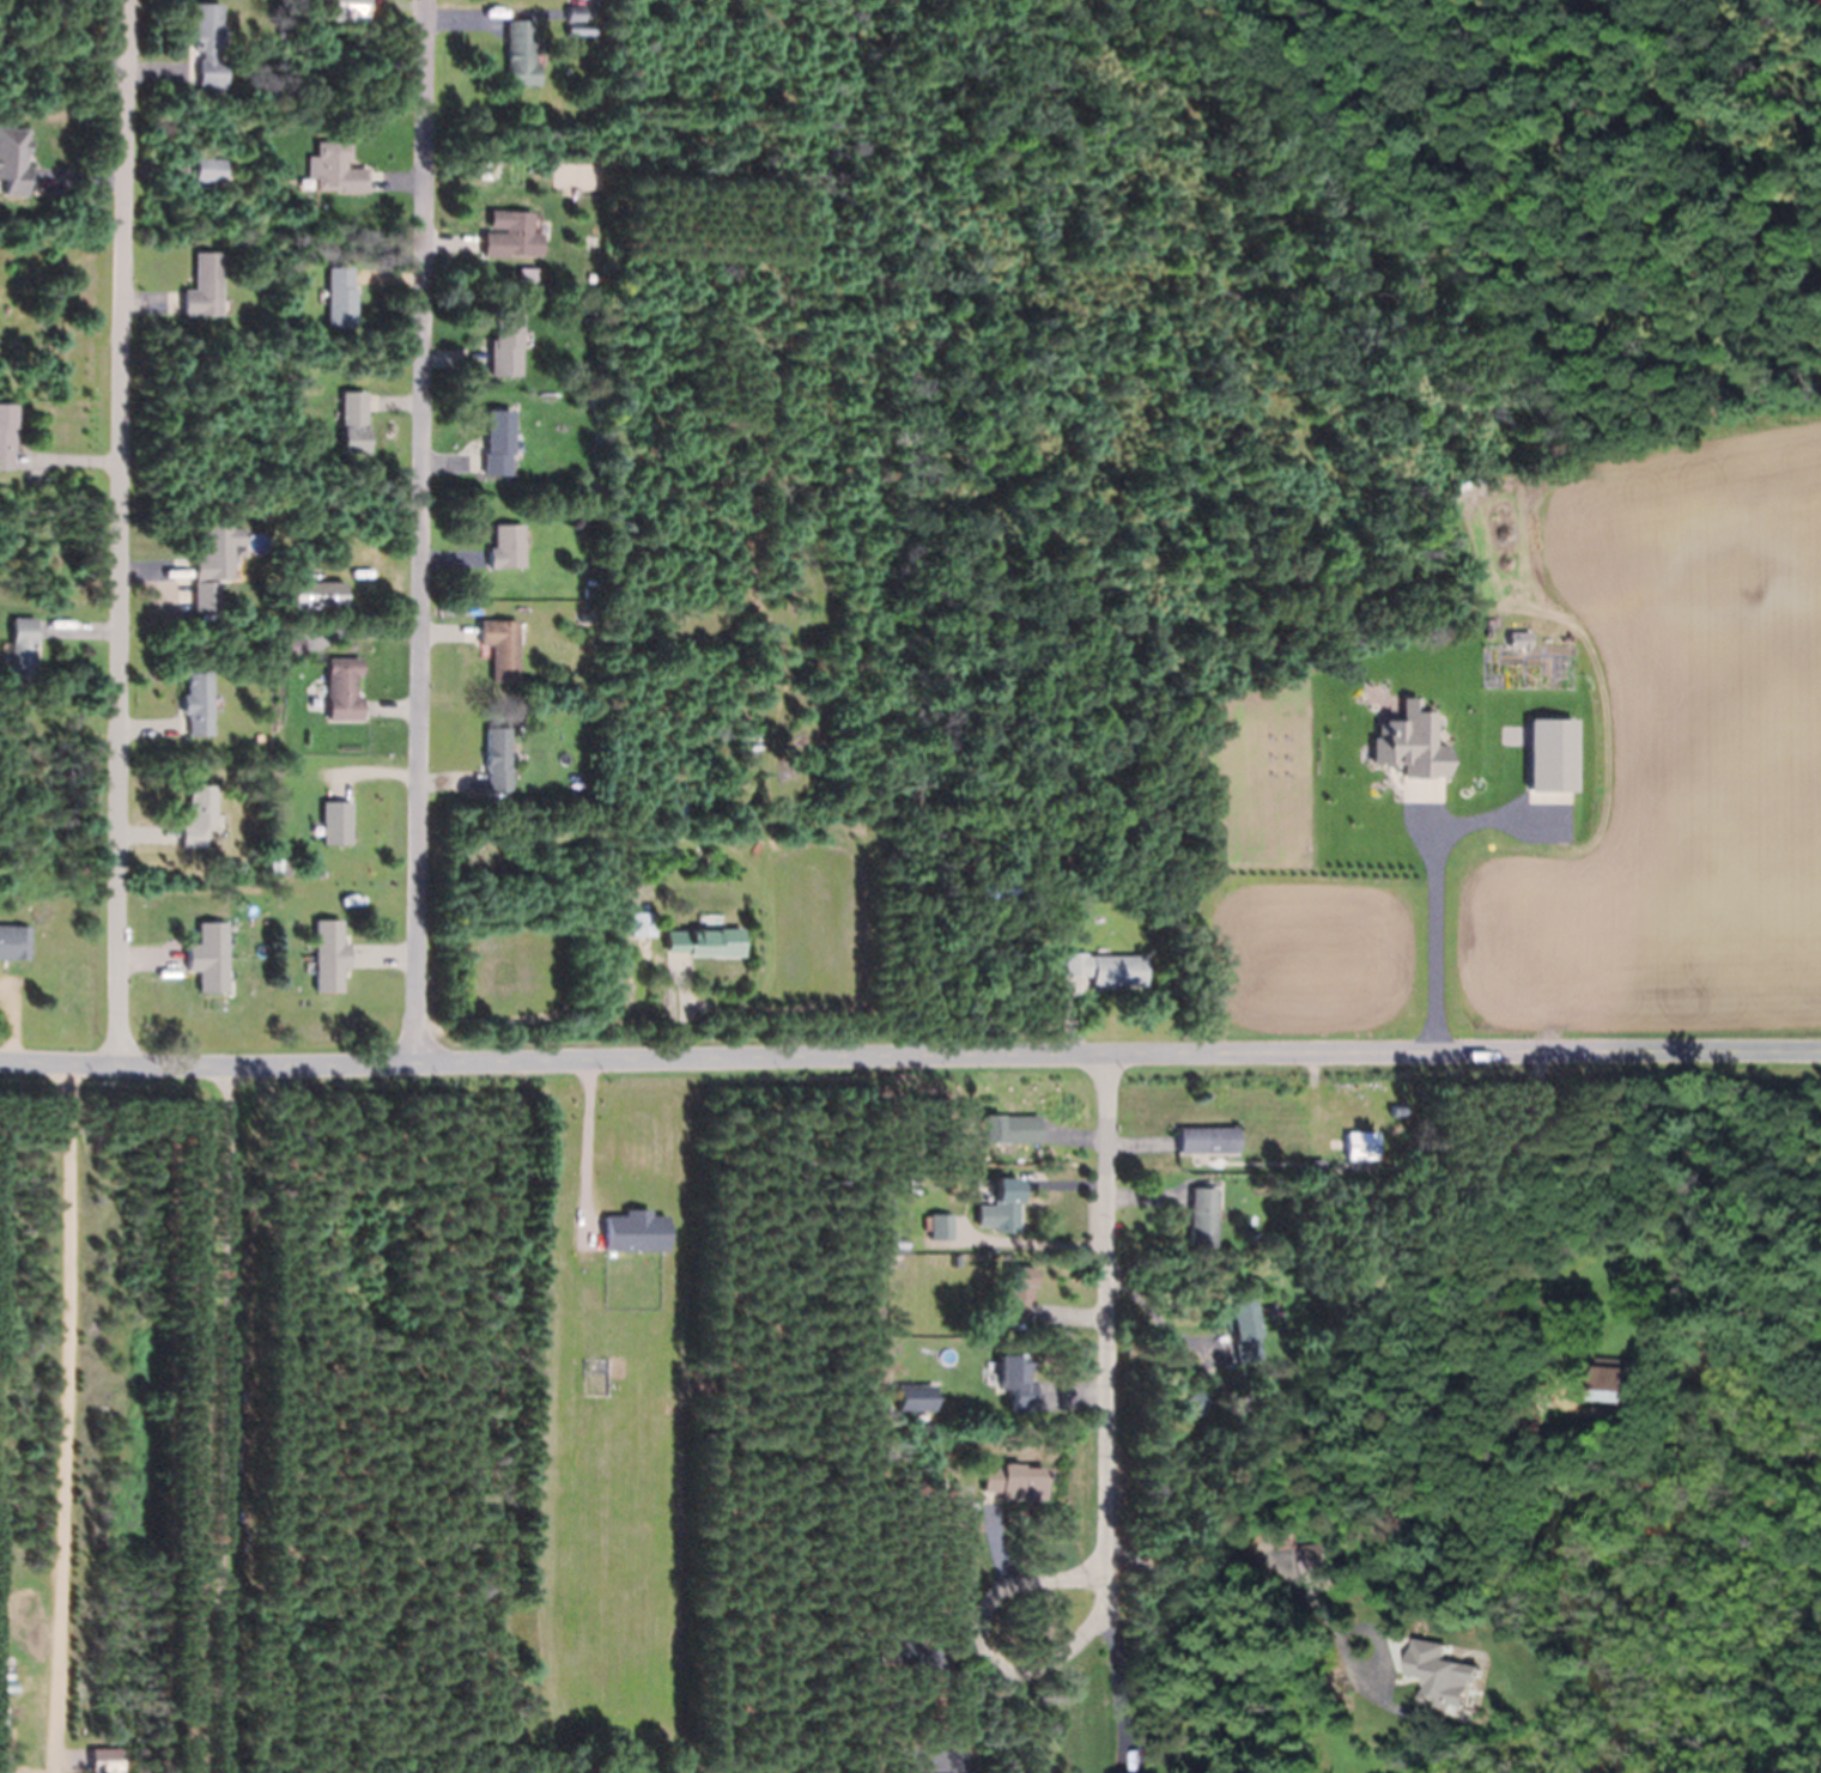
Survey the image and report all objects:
building: (1820, 0)
building: (347, 11)
building: (573, 13)
building: (208, 44)
building: (521, 53)
building: (295, 105)
building: (13, 160)
building: (334, 168)
building: (208, 170)
building: (575, 176)
building: (510, 233)
building: (535, 273)
building: (590, 277)
building: (527, 279)
building: (204, 285)
building: (339, 297)
building: (504, 344)
building: (594, 400)
building: (352, 421)
building: (7, 435)
building: (496, 442)
road: (425, 532)
road: (126, 534)
building: (505, 546)
building: (591, 548)
building: (292, 558)
building: (213, 564)
building: (590, 591)
building: (323, 595)
building: (761, 646)
building: (500, 648)
building: (22, 649)
building: (342, 688)
building: (196, 703)
building: (710, 711)
building: (377, 722)
building: (497, 758)
building: (675, 804)
building: (198, 814)
building: (336, 822)
building: (997, 886)
building: (641, 923)
building: (14, 941)
building: (705, 941)
building: (991, 951)
building: (328, 955)
building: (208, 957)
building: (1105, 967)
road: (910, 1058)
building: (1009, 1128)
building: (1206, 1140)
building: (1360, 1144)
building: (1316, 1164)
building: (1004, 1204)
building: (1201, 1213)
building: (941, 1227)
building: (960, 1227)
building: (960, 1237)
building: (1018, 1292)
road: (1113, 1317)
building: (1245, 1330)
building: (1015, 1380)
building: (1617, 1390)
building: (916, 1397)
building: (1197, 1402)
building: (1526, 1402)
building: (1534, 1427)
building: (1014, 1481)
building: (1313, 1558)
road: (979, 1625)
building: (908, 1647)
building: (1432, 1674)
building: (104, 1761)

